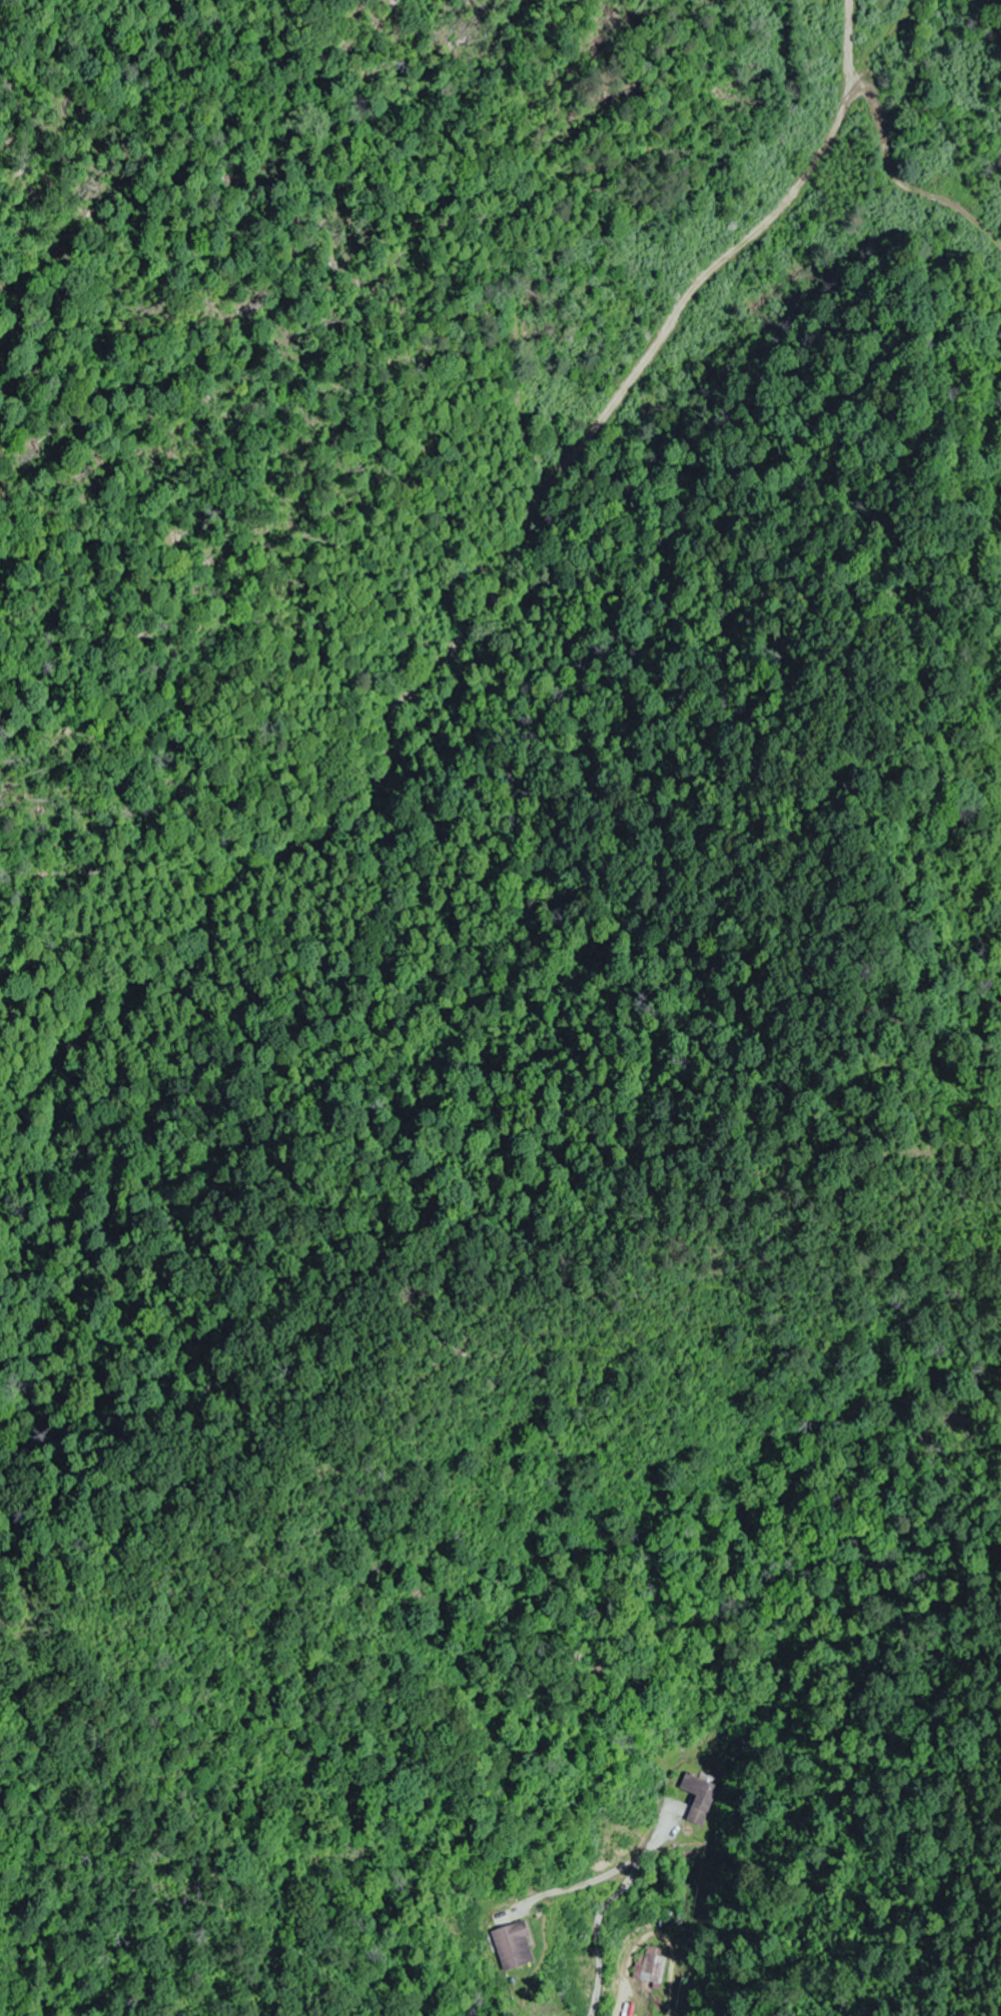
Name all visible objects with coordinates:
building: (699, 1799)
building: (513, 1946)
building: (653, 1966)
road: (601, 2015)

